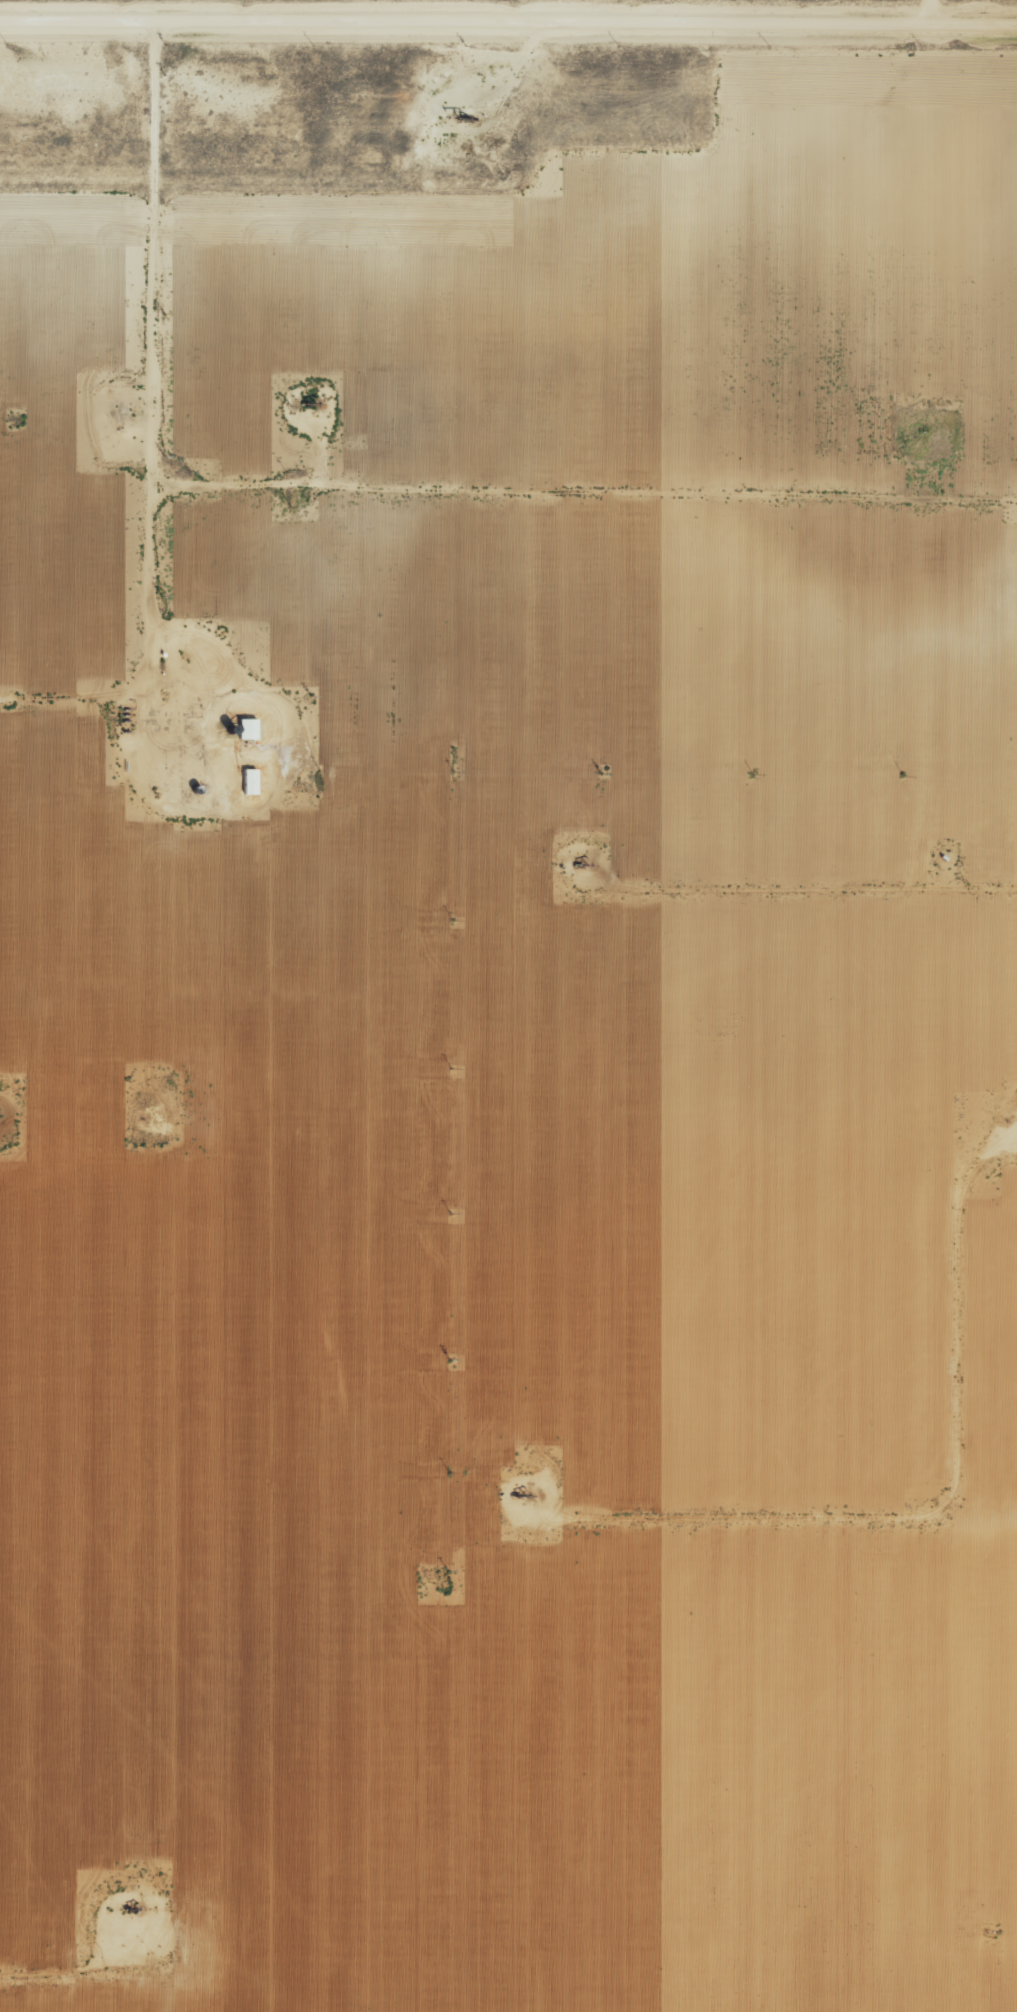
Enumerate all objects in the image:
road: (904, 0)
road: (948, 0)
petroleum well: (301, 398)
road: (395, 430)
petroleum well: (578, 863)
petroleum well: (528, 1495)
petroleum well: (131, 1906)

